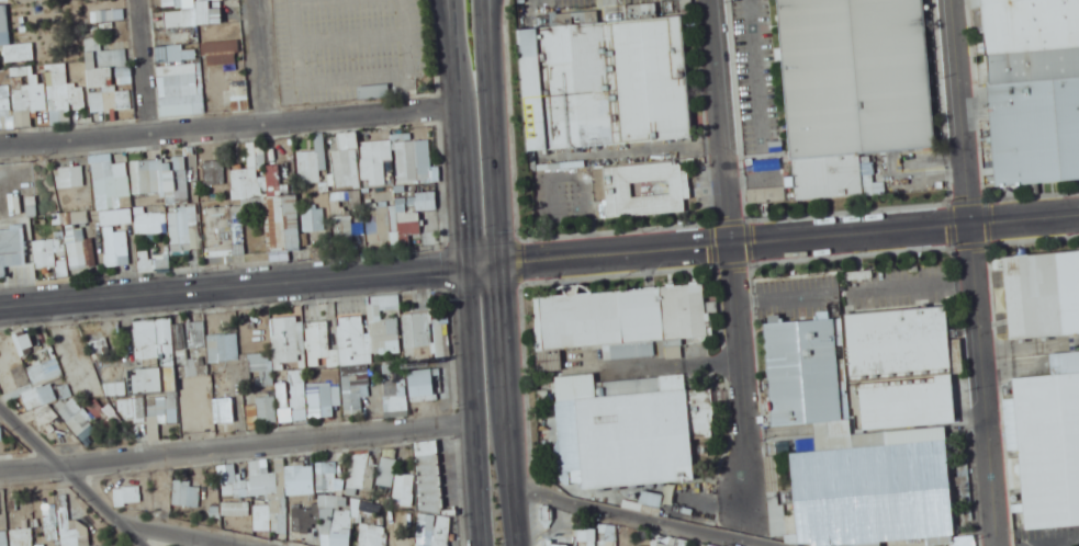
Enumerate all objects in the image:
road: (493, 8)
building: (210, 11)
road: (449, 11)
road: (451, 11)
building: (342, 26)
building: (221, 47)
building: (19, 53)
building: (177, 53)
road: (261, 60)
building: (102, 64)
road: (145, 67)
building: (855, 76)
building: (180, 80)
building: (1029, 83)
road: (458, 87)
building: (239, 90)
building: (110, 100)
building: (620, 100)
building: (7, 106)
road: (229, 125)
road: (497, 129)
building: (376, 159)
building: (347, 160)
building: (111, 170)
building: (310, 170)
building: (214, 172)
building: (147, 177)
building: (274, 179)
building: (245, 186)
road: (464, 206)
building: (430, 215)
building: (346, 218)
building: (315, 219)
building: (286, 221)
building: (143, 223)
building: (381, 225)
building: (180, 228)
road: (852, 229)
building: (117, 248)
building: (11, 249)
road: (564, 253)
road: (734, 257)
road: (485, 260)
road: (413, 266)
road: (978, 272)
road: (179, 288)
building: (1042, 293)
building: (352, 332)
building: (288, 339)
building: (319, 344)
building: (218, 348)
building: (260, 357)
building: (150, 361)
road: (512, 376)
building: (40, 382)
building: (347, 393)
building: (396, 402)
road: (475, 403)
building: (133, 407)
building: (221, 412)
building: (263, 412)
building: (76, 414)
road: (238, 442)
building: (1044, 457)
building: (813, 459)
building: (387, 471)
road: (72, 475)
building: (303, 482)
building: (235, 487)
building: (424, 489)
building: (187, 493)
building: (928, 499)
road: (520, 520)
road: (641, 520)
building: (863, 530)
road: (170, 534)
building: (587, 534)
building: (337, 538)
road: (196, 543)

